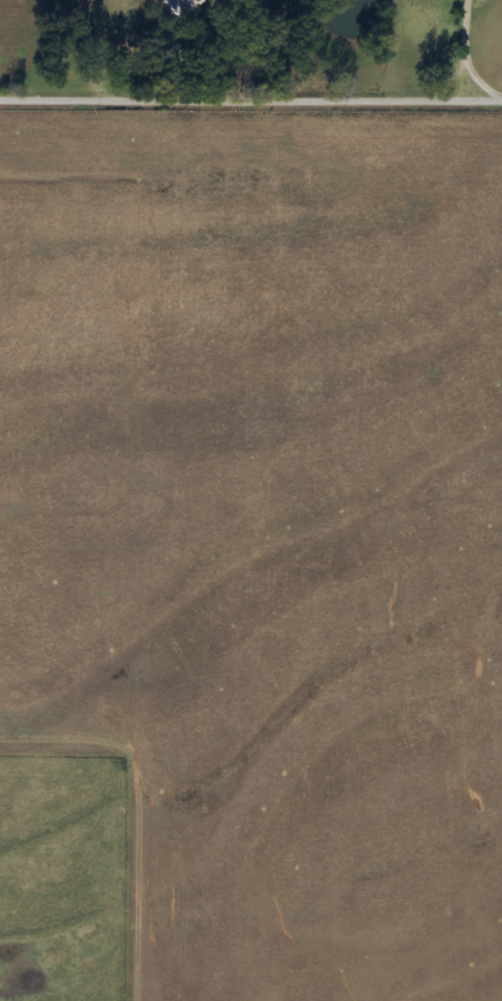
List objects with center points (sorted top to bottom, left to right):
road: (467, 52)
road: (250, 104)

